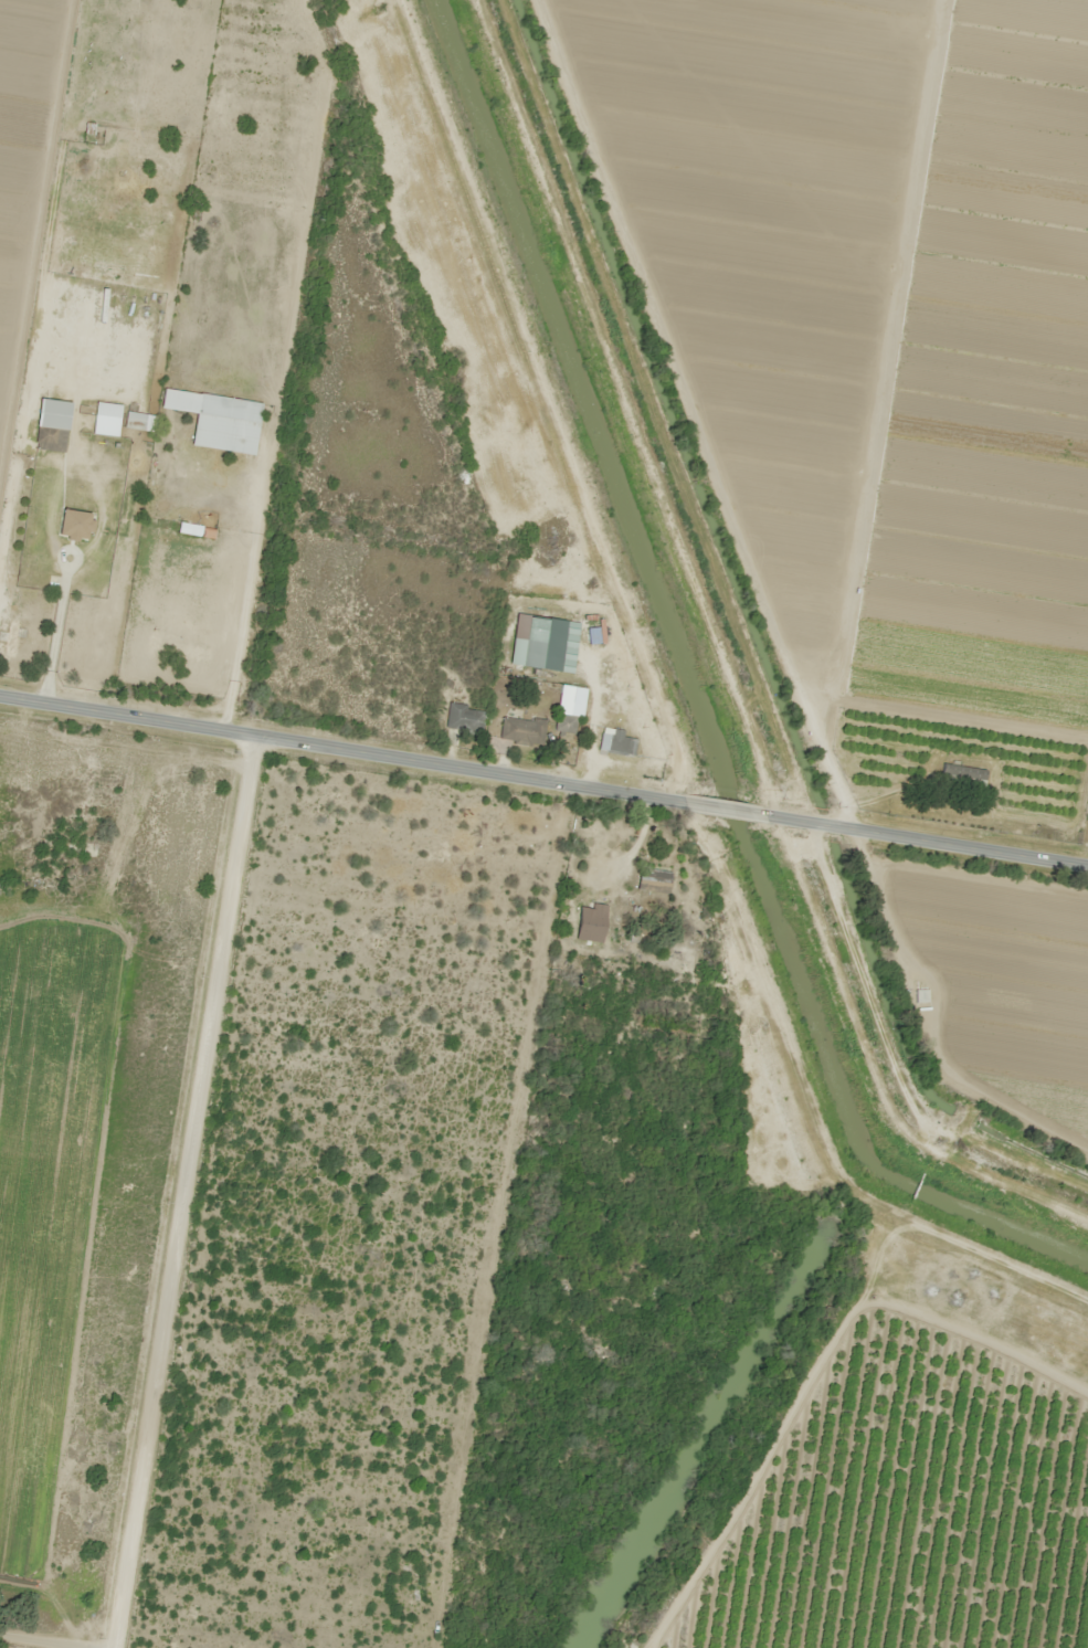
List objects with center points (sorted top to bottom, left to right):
building: (88, 134)
building: (53, 424)
building: (225, 433)
building: (75, 524)
building: (221, 625)
building: (8, 635)
building: (465, 718)
building: (564, 723)
building: (522, 730)
building: (617, 743)
road: (346, 748)
building: (961, 775)
road: (727, 805)
road: (925, 836)
building: (65, 847)
building: (655, 880)
building: (919, 995)
road: (162, 1189)

